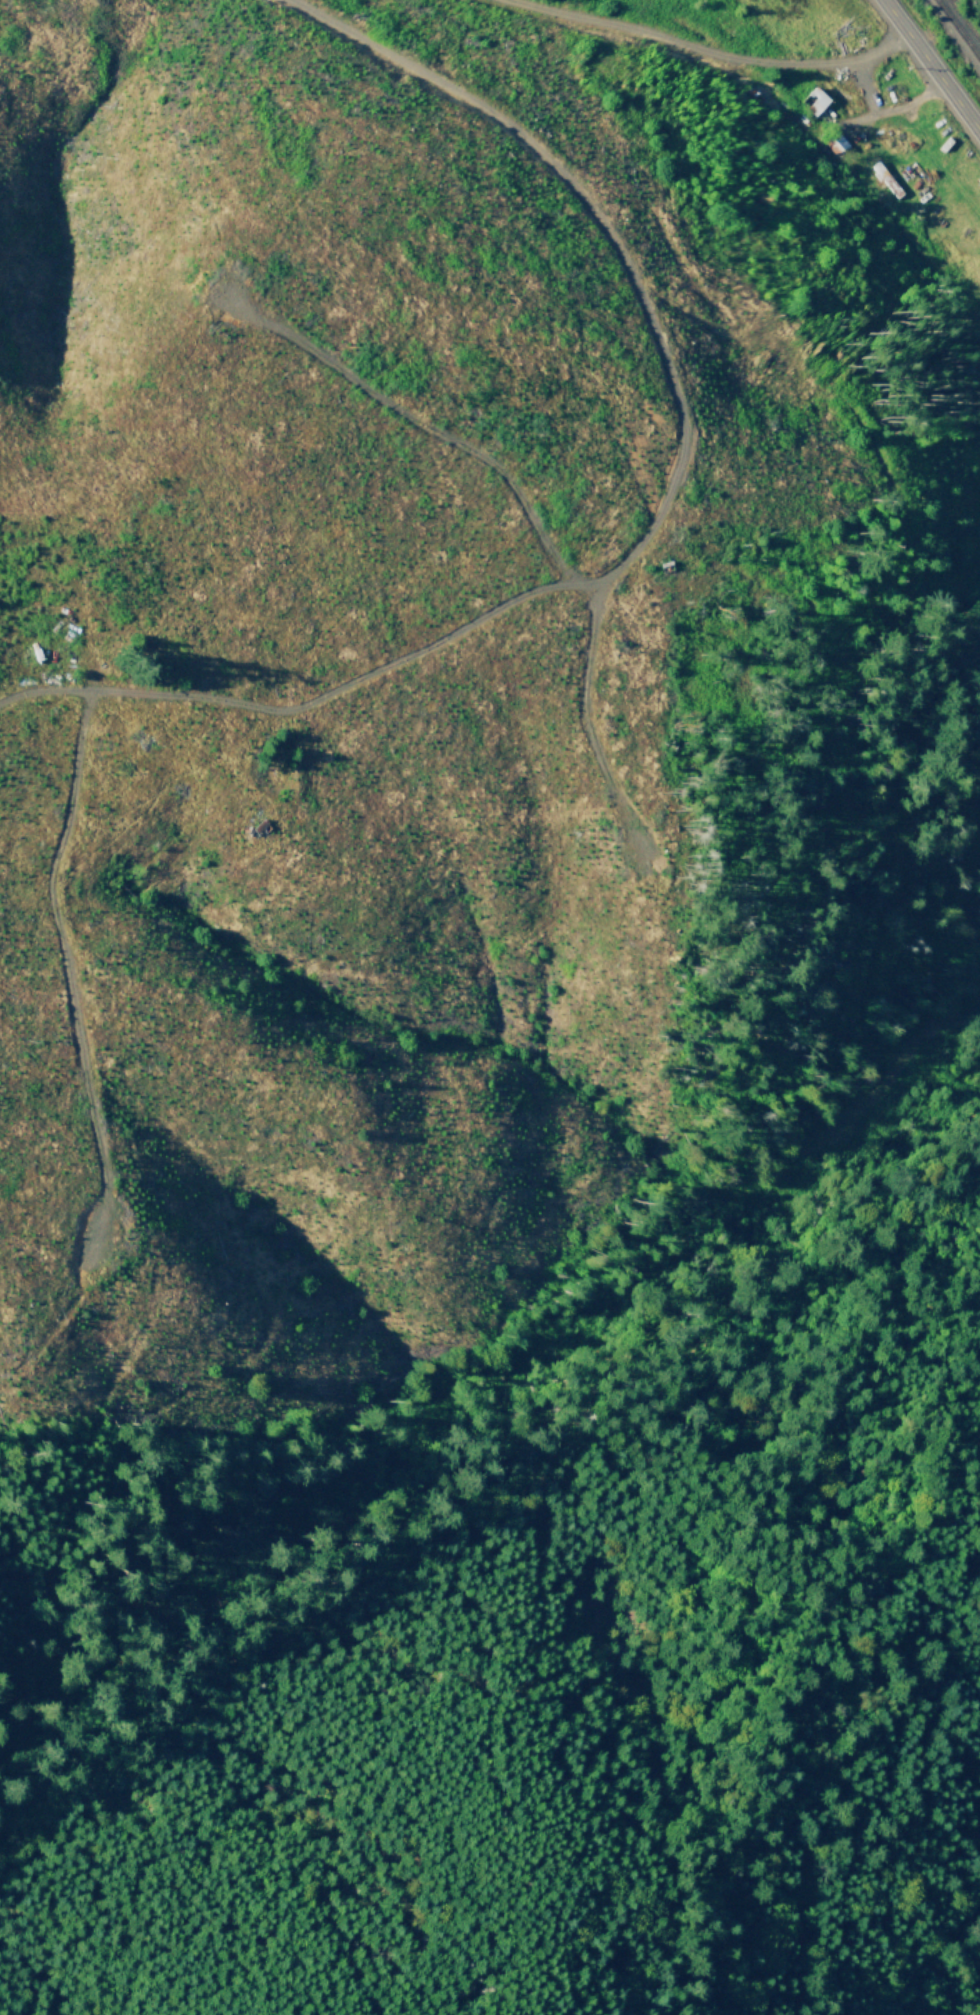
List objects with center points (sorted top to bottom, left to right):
railway: (955, 33)
road: (927, 71)
building: (814, 101)

